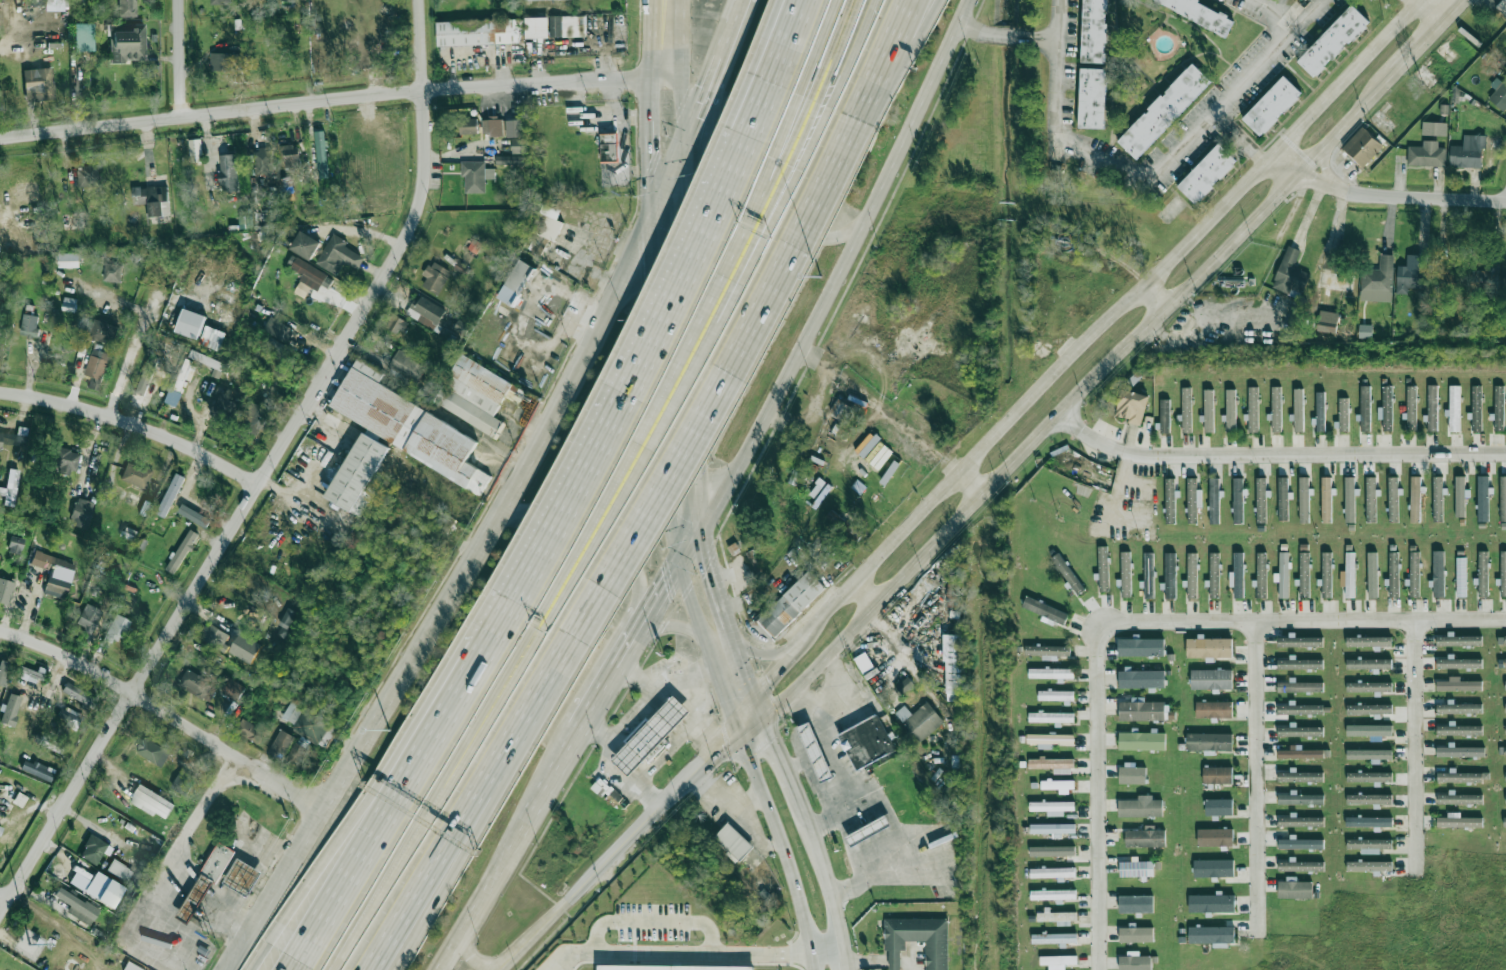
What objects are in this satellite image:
building: (529, 0)
building: (221, 2)
building: (56, 5)
building: (1502, 6)
road: (1427, 7)
building: (128, 8)
road: (1279, 12)
road: (1314, 12)
building: (1202, 13)
road: (791, 23)
building: (555, 27)
building: (1093, 31)
building: (479, 32)
road: (731, 33)
road: (1012, 33)
road: (663, 35)
building: (83, 37)
building: (1333, 41)
building: (126, 42)
road: (787, 42)
road: (815, 47)
road: (828, 50)
road: (835, 51)
road: (850, 54)
road: (180, 58)
road: (880, 59)
building: (222, 61)
road: (905, 61)
building: (38, 84)
building: (1499, 96)
road: (331, 98)
building: (1092, 98)
road: (680, 103)
road: (702, 103)
traffic signals: (702, 104)
building: (1271, 106)
building: (1164, 110)
building: (492, 126)
building: (468, 127)
building: (510, 128)
building: (1434, 128)
road: (1239, 139)
road: (646, 144)
building: (519, 146)
building: (608, 147)
building: (1362, 147)
building: (195, 150)
building: (1470, 151)
building: (321, 154)
building: (351, 156)
building: (1427, 156)
road: (837, 157)
building: (509, 159)
road: (842, 159)
building: (292, 161)
building: (264, 162)
traffic signals: (646, 166)
road: (1325, 169)
building: (229, 172)
building: (1207, 173)
building: (89, 175)
building: (474, 177)
road: (1141, 177)
road: (666, 182)
road: (738, 192)
road: (756, 194)
traffic signals: (687, 196)
road: (1385, 196)
road: (763, 197)
building: (155, 200)
road: (767, 212)
road: (773, 215)
building: (245, 221)
road: (13, 227)
building: (542, 230)
building: (305, 245)
building: (474, 245)
building: (339, 255)
road: (850, 255)
building: (68, 259)
building: (34, 266)
building: (461, 268)
building: (112, 272)
building: (308, 272)
building: (1290, 274)
building: (1382, 276)
building: (1485, 277)
building: (436, 278)
building: (1420, 279)
road: (1152, 297)
road: (1124, 303)
building: (69, 304)
building: (521, 304)
building: (426, 311)
building: (395, 324)
building: (29, 325)
building: (277, 330)
building: (1365, 331)
building: (104, 332)
building: (188, 333)
road: (692, 333)
building: (212, 338)
road: (137, 340)
road: (648, 346)
building: (210, 362)
building: (403, 367)
building: (97, 368)
road: (1101, 372)
building: (147, 374)
building: (184, 374)
road: (659, 393)
building: (473, 394)
building: (226, 406)
building: (1131, 406)
building: (1431, 407)
building: (1476, 407)
building: (1499, 407)
building: (1252, 408)
building: (1365, 408)
building: (1386, 408)
building: (1411, 408)
building: (1454, 408)
building: (1186, 409)
building: (1275, 409)
building: (1298, 409)
road: (883, 410)
building: (1208, 410)
building: (1230, 410)
building: (256, 411)
building: (1320, 411)
building: (843, 413)
building: (1343, 414)
building: (1164, 416)
road: (700, 417)
building: (406, 425)
road: (133, 426)
building: (0, 440)
building: (869, 445)
building: (874, 451)
road: (1278, 455)
road: (628, 456)
building: (881, 457)
building: (64, 462)
road: (633, 472)
building: (889, 472)
road: (265, 473)
building: (358, 473)
building: (136, 476)
building: (794, 477)
road: (971, 481)
building: (858, 486)
building: (11, 487)
building: (170, 495)
building: (1459, 496)
building: (1283, 498)
building: (1415, 498)
building: (1482, 498)
building: (1502, 498)
building: (197, 499)
building: (1303, 499)
building: (1326, 499)
building: (1349, 499)
building: (1370, 499)
building: (1392, 499)
building: (1437, 499)
building: (1170, 500)
building: (1193, 500)
building: (1214, 500)
building: (1237, 500)
building: (1261, 500)
road: (1113, 503)
building: (144, 508)
building: (81, 512)
road: (710, 514)
building: (194, 516)
traffic signals: (673, 518)
building: (843, 525)
building: (129, 533)
building: (142, 543)
road: (580, 543)
building: (15, 544)
building: (733, 548)
building: (179, 555)
traffic signals: (710, 562)
building: (1103, 568)
road: (676, 570)
building: (54, 573)
building: (1067, 573)
building: (1125, 573)
building: (1414, 573)
building: (1438, 573)
building: (1483, 573)
building: (1503, 573)
building: (1214, 574)
building: (1238, 574)
building: (1304, 574)
building: (1326, 574)
building: (1372, 574)
building: (1393, 574)
road: (713, 575)
building: (1149, 575)
building: (1170, 575)
building: (1192, 575)
building: (1261, 575)
building: (1282, 575)
building: (1348, 575)
building: (1461, 576)
traffic signals: (666, 589)
building: (956, 590)
building: (5, 592)
road: (862, 595)
road: (440, 598)
building: (792, 604)
road: (693, 608)
building: (1045, 610)
building: (287, 617)
road: (504, 617)
building: (89, 618)
road: (1302, 620)
road: (671, 626)
building: (116, 630)
road: (812, 630)
road: (731, 632)
building: (215, 637)
building: (1502, 639)
building: (1459, 640)
building: (1300, 641)
building: (1368, 641)
road: (635, 644)
building: (1141, 647)
building: (1209, 647)
building: (1047, 651)
road: (759, 653)
road: (520, 655)
road: (522, 657)
building: (863, 662)
building: (1300, 663)
building: (1368, 663)
building: (1458, 663)
building: (1505, 663)
road: (743, 667)
building: (954, 668)
building: (3, 671)
building: (1050, 673)
building: (27, 674)
road: (639, 677)
traffic signals: (769, 678)
building: (1141, 678)
building: (1211, 679)
building: (195, 683)
building: (1458, 684)
building: (904, 685)
building: (1505, 685)
building: (1299, 686)
building: (1369, 686)
road: (759, 688)
building: (233, 689)
road: (723, 690)
building: (79, 695)
building: (1055, 696)
road: (647, 697)
traffic signals: (726, 698)
road: (602, 699)
road: (694, 703)
road: (807, 703)
building: (1505, 707)
building: (1459, 708)
building: (1213, 709)
building: (1300, 709)
building: (1369, 709)
building: (10, 710)
building: (1144, 710)
road: (164, 713)
building: (293, 714)
building: (68, 716)
building: (1050, 717)
building: (920, 721)
building: (1505, 729)
building: (1459, 730)
building: (250, 731)
building: (1299, 731)
building: (1369, 731)
building: (651, 735)
gas station: (651, 735)
building: (867, 740)
building: (1050, 740)
building: (1141, 740)
traffic signals: (772, 741)
building: (1209, 741)
traffic signals: (721, 742)
building: (47, 743)
building: (281, 744)
road: (1415, 747)
building: (152, 751)
building: (816, 751)
gas station: (816, 751)
building: (1461, 751)
building: (1505, 751)
road: (663, 753)
building: (1300, 753)
building: (1368, 754)
building: (295, 756)
road: (780, 763)
road: (792, 764)
building: (1052, 764)
building: (36, 770)
building: (1132, 774)
building: (1217, 775)
building: (1300, 776)
building: (1369, 776)
building: (1462, 776)
building: (1505, 776)
road: (1257, 777)
road: (557, 779)
building: (183, 782)
building: (1057, 784)
road: (864, 788)
building: (606, 790)
road: (820, 790)
road: (1098, 796)
road: (368, 797)
building: (1369, 798)
building: (1460, 798)
building: (1505, 798)
building: (1300, 799)
building: (9, 800)
building: (153, 801)
road: (392, 801)
road: (747, 801)
road: (484, 805)
building: (1052, 807)
building: (1140, 807)
building: (1218, 807)
road: (836, 810)
road: (734, 811)
building: (1299, 821)
building: (1368, 821)
building: (1460, 821)
building: (1504, 821)
building: (0, 828)
building: (1052, 829)
building: (869, 830)
gas station: (869, 830)
road: (413, 831)
building: (1145, 837)
building: (1215, 837)
road: (625, 840)
building: (733, 841)
building: (1300, 843)
building: (1369, 844)
road: (781, 847)
building: (93, 850)
building: (1052, 850)
building: (1300, 866)
building: (1369, 866)
building: (1213, 868)
building: (1136, 869)
building: (119, 871)
building: (1051, 873)
building: (241, 878)
building: (204, 883)
road: (160, 888)
road: (828, 888)
building: (1294, 888)
building: (103, 890)
building: (1053, 894)
road: (4, 897)
road: (486, 899)
building: (1136, 903)
building: (1211, 903)
building: (73, 909)
building: (1058, 917)
parking lot: (652, 922)
road: (653, 923)
building: (1136, 934)
building: (1212, 935)
building: (919, 937)
building: (1054, 938)
building: (38, 943)
road: (826, 951)
parking lot: (920, 955)
road: (674, 956)
road: (845, 959)
road: (895, 959)
building: (75, 960)
road: (867, 960)
building: (895, 960)
road: (909, 960)
building: (1057, 961)
road: (510, 962)
building: (1135, 962)
road: (482, 963)
road: (559, 964)
building: (130, 967)
building: (670, 967)

